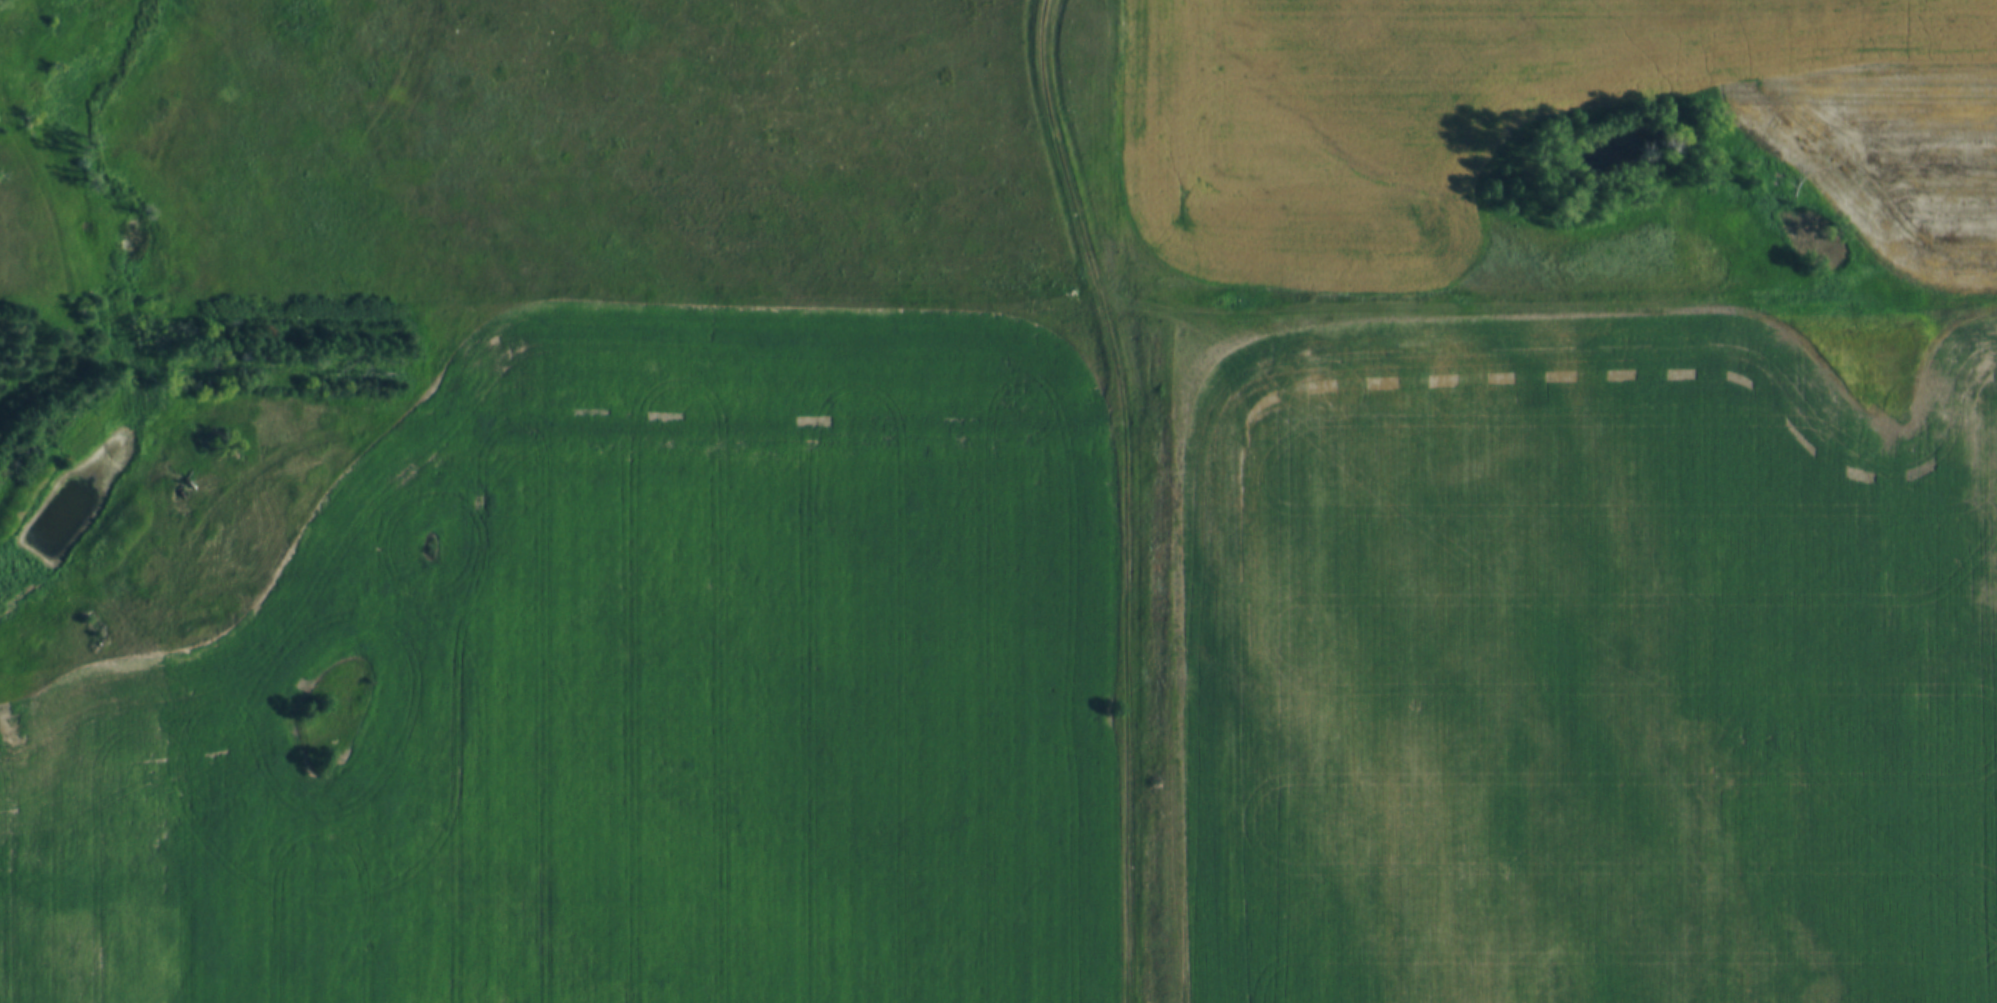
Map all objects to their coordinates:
road: (1129, 496)

